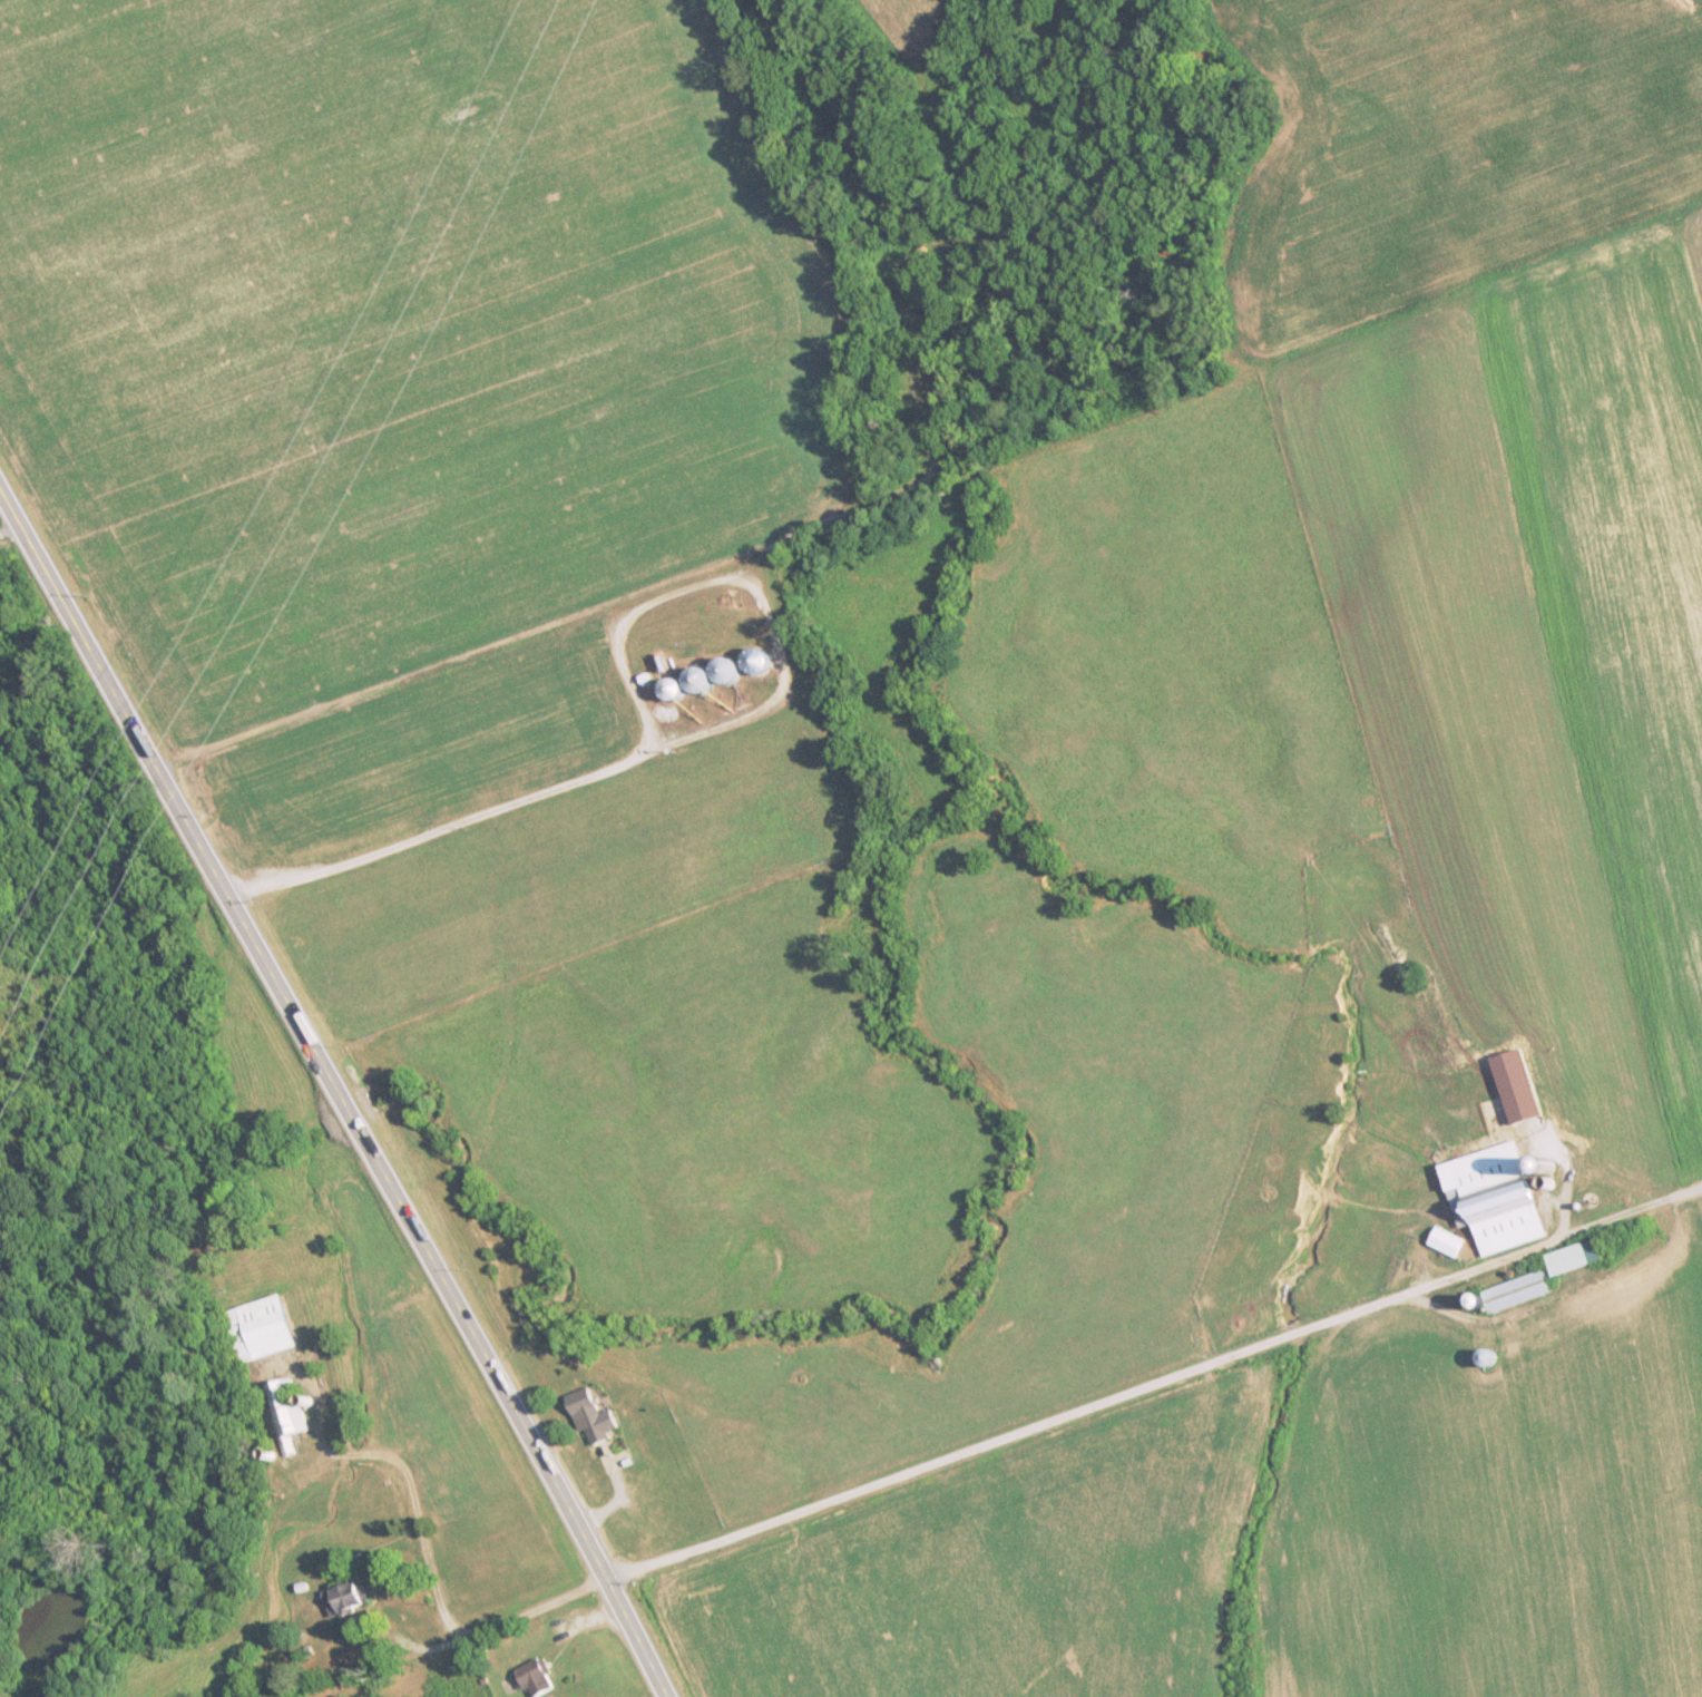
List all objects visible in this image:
road: (338, 1092)
building: (1499, 1198)
building: (1577, 1258)
building: (1517, 1293)
building: (263, 1329)
road: (1155, 1382)
building: (286, 1413)
building: (595, 1417)
road: (431, 1579)
building: (346, 1599)
building: (537, 1679)

